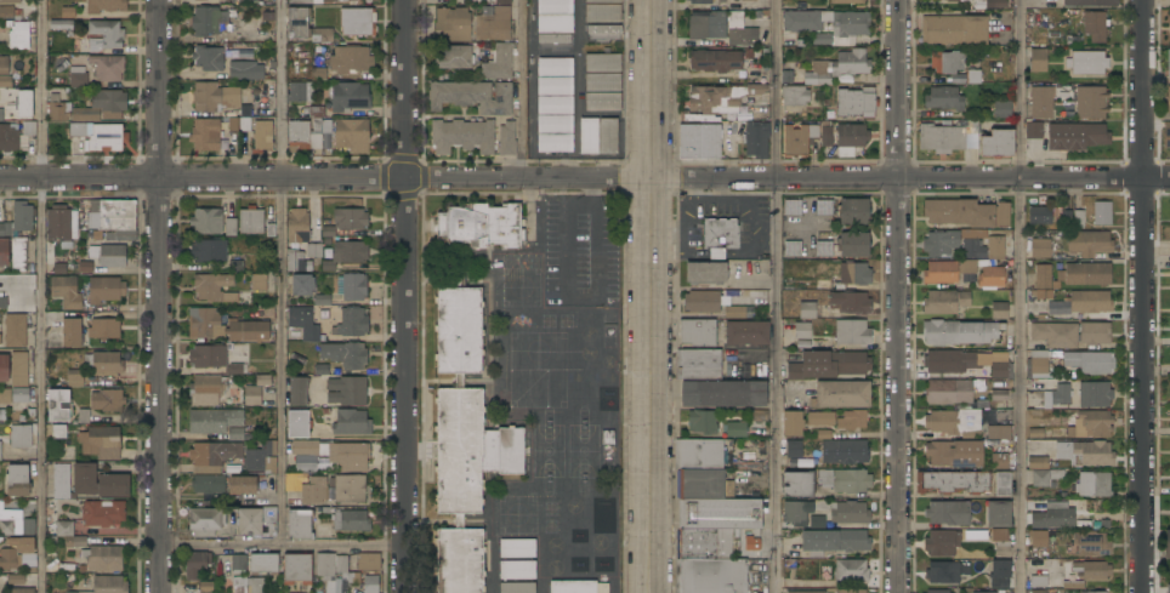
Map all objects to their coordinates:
building: (201, 0)
building: (748, 0)
building: (10, 1)
building: (301, 1)
building: (329, 1)
building: (602, 1)
building: (700, 1)
building: (847, 1)
building: (502, 2)
building: (986, 2)
building: (1089, 2)
building: (104, 5)
building: (555, 6)
building: (728, 6)
building: (6, 12)
building: (68, 13)
building: (602, 13)
building: (209, 21)
building: (737, 21)
building: (358, 22)
building: (297, 23)
building: (493, 23)
building: (555, 23)
building: (453, 24)
building: (62, 25)
building: (1095, 25)
building: (706, 27)
building: (802, 27)
building: (604, 29)
building: (954, 30)
building: (322, 35)
building: (19, 36)
building: (106, 36)
building: (740, 38)
building: (553, 39)
building: (458, 56)
building: (208, 58)
building: (350, 59)
building: (715, 61)
building: (1038, 61)
building: (499, 62)
building: (947, 62)
building: (602, 63)
building: (1087, 63)
building: (1169, 63)
building: (842, 65)
building: (555, 67)
building: (108, 68)
building: (245, 70)
building: (5, 73)
building: (319, 73)
building: (78, 76)
building: (973, 76)
building: (602, 82)
building: (555, 86)
road: (158, 89)
road: (521, 89)
road: (653, 89)
building: (301, 92)
building: (794, 96)
building: (350, 97)
building: (472, 97)
building: (215, 98)
building: (943, 98)
building: (1168, 99)
building: (603, 102)
building: (717, 102)
building: (857, 103)
building: (1041, 103)
building: (1091, 103)
building: (24, 104)
building: (555, 106)
building: (102, 107)
building: (58, 109)
building: (1003, 110)
building: (316, 112)
building: (1, 115)
building: (555, 124)
building: (235, 125)
building: (326, 126)
building: (1034, 131)
building: (205, 135)
building: (317, 135)
building: (16, 136)
building: (101, 136)
building: (262, 136)
building: (299, 136)
building: (462, 136)
building: (589, 136)
building: (608, 136)
building: (825, 136)
building: (1166, 136)
building: (352, 137)
building: (1077, 137)
building: (942, 138)
building: (507, 139)
building: (799, 139)
building: (851, 139)
building: (700, 142)
building: (555, 143)
building: (998, 144)
road: (138, 148)
road: (279, 158)
road: (404, 158)
road: (422, 176)
road: (384, 177)
road: (584, 177)
road: (402, 195)
road: (279, 196)
building: (793, 207)
building: (823, 207)
building: (852, 211)
building: (966, 213)
building: (1102, 213)
building: (113, 215)
building: (1040, 216)
building: (1072, 218)
building: (350, 219)
building: (206, 221)
building: (251, 221)
building: (62, 223)
building: (546, 223)
building: (297, 226)
building: (481, 226)
building: (231, 228)
building: (326, 229)
building: (1, 230)
building: (271, 232)
building: (19, 234)
building: (972, 234)
building: (121, 235)
building: (98, 236)
building: (720, 236)
building: (941, 244)
building: (1089, 244)
building: (853, 245)
building: (995, 247)
building: (1040, 247)
building: (793, 249)
building: (824, 249)
building: (209, 250)
building: (973, 250)
building: (314, 251)
building: (4, 252)
building: (346, 255)
building: (112, 256)
building: (297, 262)
building: (235, 263)
building: (967, 267)
building: (86, 268)
building: (61, 270)
road: (282, 273)
building: (706, 273)
building: (941, 273)
building: (1085, 274)
building: (1043, 276)
building: (846, 278)
building: (990, 278)
building: (259, 283)
building: (302, 285)
building: (352, 286)
building: (215, 289)
building: (106, 290)
road: (579, 291)
building: (66, 292)
road: (40, 296)
road: (404, 296)
road: (774, 296)
road: (897, 296)
road: (1020, 296)
road: (1141, 296)
building: (323, 301)
building: (702, 302)
building: (945, 302)
building: (1090, 302)
building: (4, 303)
building: (851, 303)
building: (751, 309)
building: (807, 310)
building: (999, 312)
building: (735, 313)
building: (303, 323)
building: (351, 323)
building: (249, 325)
building: (104, 329)
building: (15, 330)
building: (459, 330)
building: (802, 331)
building: (72, 332)
building: (697, 332)
building: (960, 332)
building: (745, 333)
building: (852, 333)
building: (1094, 333)
building: (1055, 335)
building: (0, 340)
building: (812, 344)
building: (345, 354)
building: (214, 359)
building: (948, 361)
building: (103, 363)
building: (1040, 363)
building: (1090, 363)
building: (698, 364)
building: (828, 365)
building: (4, 369)
building: (19, 370)
building: (323, 370)
building: (999, 370)
building: (70, 380)
road: (158, 386)
road: (652, 386)
building: (208, 390)
building: (297, 392)
building: (347, 392)
building: (948, 392)
building: (723, 394)
building: (841, 394)
building: (21, 395)
building: (999, 395)
building: (1096, 395)
building: (5, 397)
building: (252, 397)
building: (1056, 397)
building: (107, 400)
building: (57, 405)
building: (0, 412)
building: (760, 416)
building: (84, 417)
building: (820, 418)
building: (215, 421)
building: (852, 421)
building: (351, 422)
building: (702, 422)
building: (955, 423)
building: (297, 424)
building: (793, 424)
building: (1079, 427)
building: (737, 429)
building: (59, 432)
building: (999, 433)
building: (235, 434)
building: (21, 437)
building: (101, 443)
building: (306, 449)
building: (794, 450)
building: (0, 451)
building: (324, 451)
building: (845, 451)
building: (955, 454)
building: (1085, 454)
building: (699, 455)
building: (214, 456)
building: (350, 457)
building: (261, 458)
building: (1000, 461)
building: (1036, 463)
building: (308, 464)
building: (1045, 477)
building: (825, 479)
building: (17, 481)
building: (466, 481)
building: (851, 481)
building: (62, 483)
building: (100, 483)
building: (953, 483)
building: (208, 484)
building: (1003, 484)
building: (1095, 484)
building: (704, 485)
building: (797, 485)
building: (243, 486)
building: (307, 487)
building: (348, 489)
building: (1, 507)
building: (103, 513)
building: (797, 513)
building: (848, 513)
building: (948, 513)
building: (719, 514)
building: (1053, 517)
building: (351, 520)
building: (206, 521)
building: (257, 523)
building: (817, 523)
building: (300, 525)
building: (1000, 526)
building: (6, 528)
building: (30, 528)
building: (737, 534)
building: (69, 535)
building: (1039, 540)
building: (835, 541)
building: (751, 543)
building: (942, 543)
building: (705, 544)
building: (1090, 544)
building: (1168, 546)
road: (280, 548)
building: (517, 548)
building: (16, 553)
building: (106, 558)
building: (29, 560)
building: (368, 561)
building: (239, 563)
building: (263, 564)
building: (197, 565)
building: (67, 568)
building: (296, 569)
building: (33, 570)
building: (517, 570)
building: (851, 570)
building: (1086, 571)
building: (335, 572)
building: (943, 572)
building: (1000, 574)
building: (711, 576)
building: (16, 581)
building: (1039, 581)
building: (1055, 582)
building: (239, 583)
building: (109, 585)
building: (256, 585)
building: (371, 585)
building: (205, 587)
building: (517, 587)
building: (573, 587)
building: (603, 588)
building: (1168, 588)
building: (21, 591)
building: (851, 591)
building: (937, 591)
building: (805, 592)
building: (983, 592)
building: (1039, 592)
building: (1094, 592)

